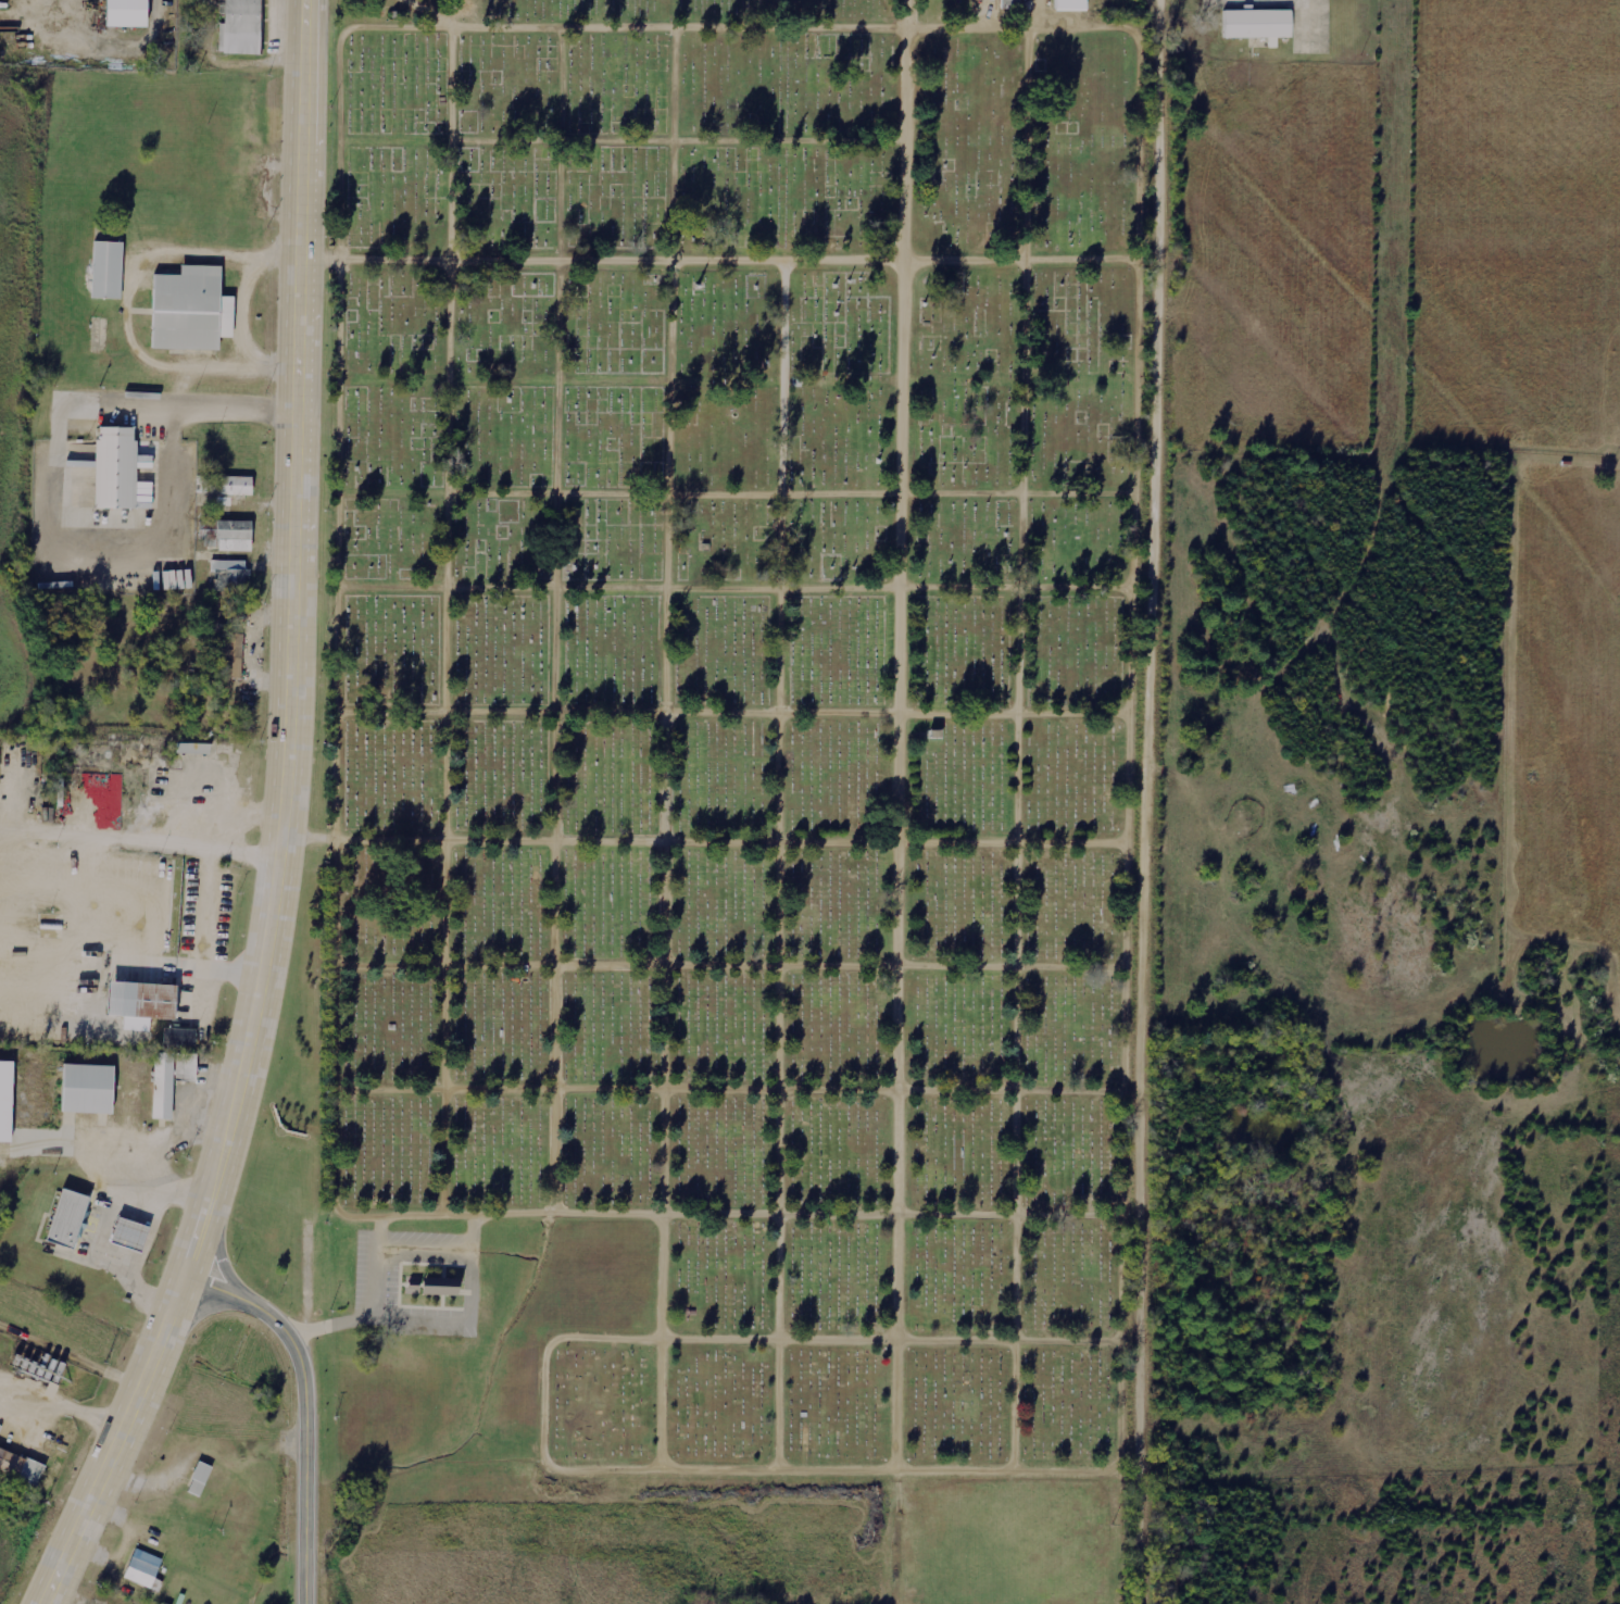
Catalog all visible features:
building: (1007, 1)
building: (1071, 5)
building: (125, 14)
building: (1258, 25)
building: (241, 27)
road: (776, 32)
road: (732, 264)
building: (108, 270)
building: (190, 309)
building: (115, 467)
building: (236, 485)
building: (230, 535)
road: (1020, 550)
building: (230, 575)
road: (726, 589)
road: (897, 605)
road: (447, 622)
building: (233, 656)
park: (728, 741)
building: (193, 749)
road: (1153, 801)
road: (286, 824)
road: (718, 835)
road: (162, 844)
road: (219, 973)
building: (141, 1001)
road: (1016, 1023)
road: (755, 1024)
building: (179, 1037)
building: (186, 1067)
building: (163, 1086)
building: (87, 1089)
building: (5, 1101)
road: (163, 1142)
road: (618, 1211)
building: (68, 1220)
road: (99, 1223)
building: (129, 1236)
building: (431, 1287)
road: (306, 1404)
road: (62, 1406)
building: (21, 1466)
building: (200, 1479)
building: (145, 1570)

